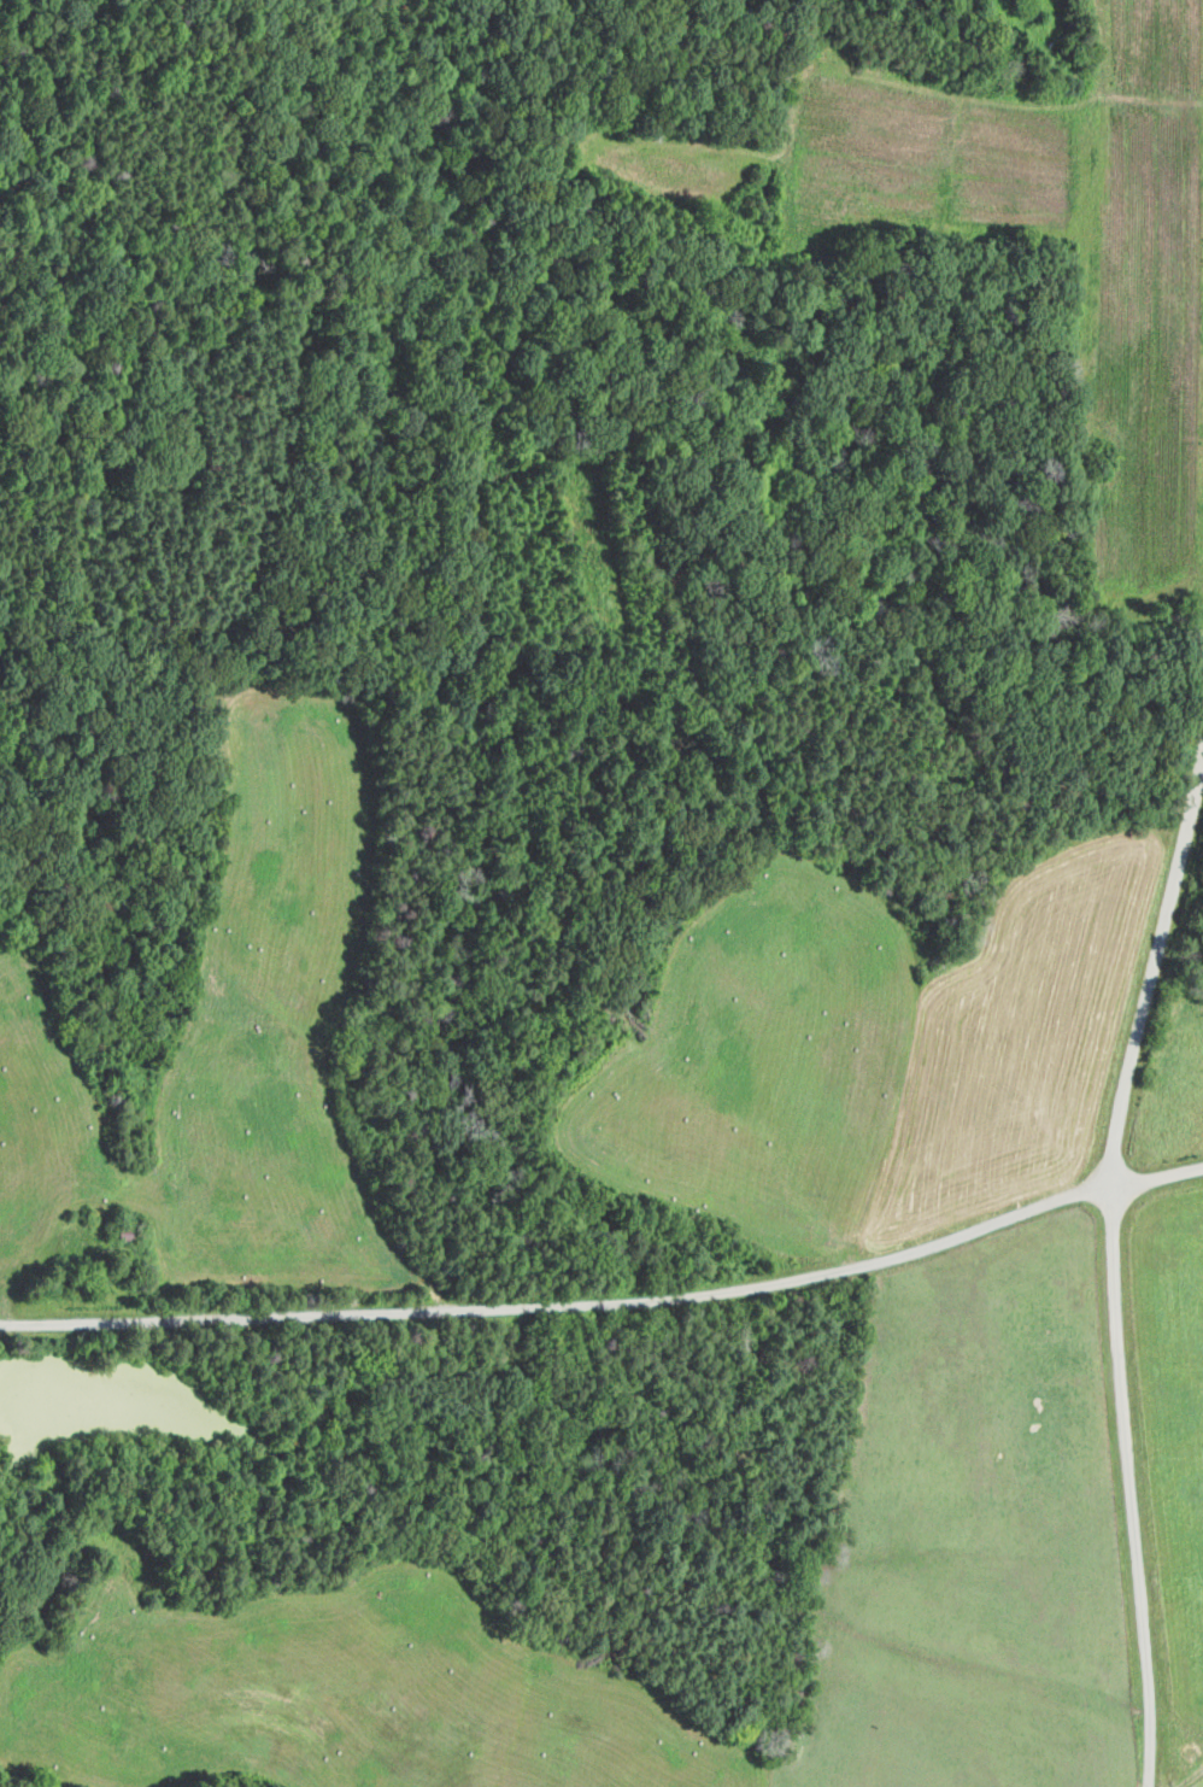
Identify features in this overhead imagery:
road: (1115, 1262)
road: (609, 1296)

